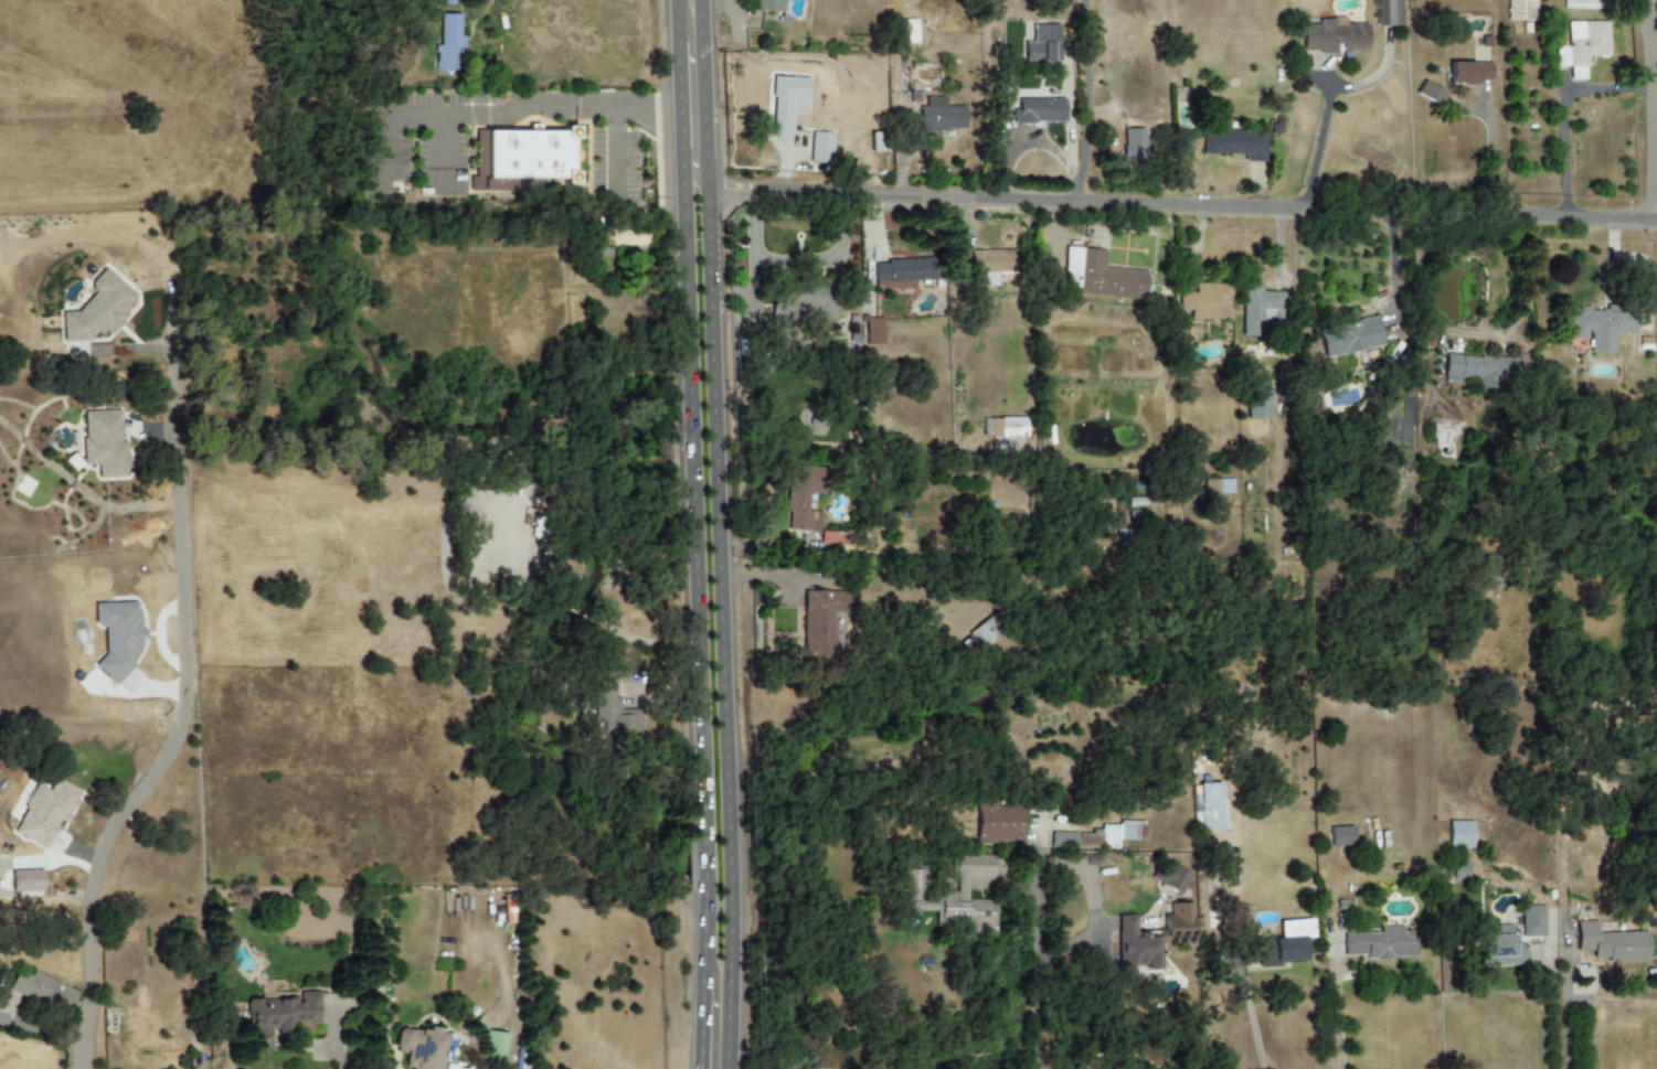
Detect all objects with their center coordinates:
road: (736, 1)
building: (769, 4)
building: (1387, 12)
road: (677, 21)
building: (907, 31)
building: (1334, 35)
building: (448, 41)
building: (1042, 43)
building: (1582, 46)
building: (1468, 73)
road: (1086, 89)
road: (679, 99)
building: (787, 104)
road: (1648, 109)
road: (500, 110)
building: (1041, 110)
road: (1563, 111)
building: (941, 116)
road: (1035, 142)
building: (1234, 145)
building: (1133, 146)
road: (1316, 146)
road: (442, 148)
building: (520, 159)
road: (615, 159)
road: (1488, 159)
road: (686, 160)
road: (1181, 204)
road: (1278, 242)
building: (1072, 254)
road: (1395, 264)
building: (902, 274)
building: (1107, 278)
building: (1208, 302)
building: (805, 307)
building: (1260, 309)
building: (97, 310)
building: (1600, 325)
building: (871, 331)
road: (1483, 333)
building: (1350, 336)
building: (1480, 371)
building: (1256, 397)
building: (1008, 427)
building: (104, 443)
building: (803, 498)
road: (719, 534)
road: (695, 568)
building: (819, 623)
building: (984, 632)
building: (117, 635)
road: (181, 705)
building: (614, 716)
building: (45, 812)
building: (999, 824)
building: (1120, 833)
building: (1458, 835)
building: (1340, 836)
building: (1063, 840)
building: (1088, 840)
building: (1459, 870)
building: (1170, 877)
building: (952, 892)
building: (1153, 937)
building: (1512, 939)
building: (1380, 943)
building: (1611, 943)
building: (1284, 944)
road: (1039, 968)
building: (42, 992)
road: (1564, 1008)
road: (1553, 1009)
building: (283, 1013)
road: (1332, 1022)
road: (1252, 1024)
road: (701, 1025)
road: (337, 1040)
building: (419, 1047)
building: (493, 1049)
building: (447, 1067)

